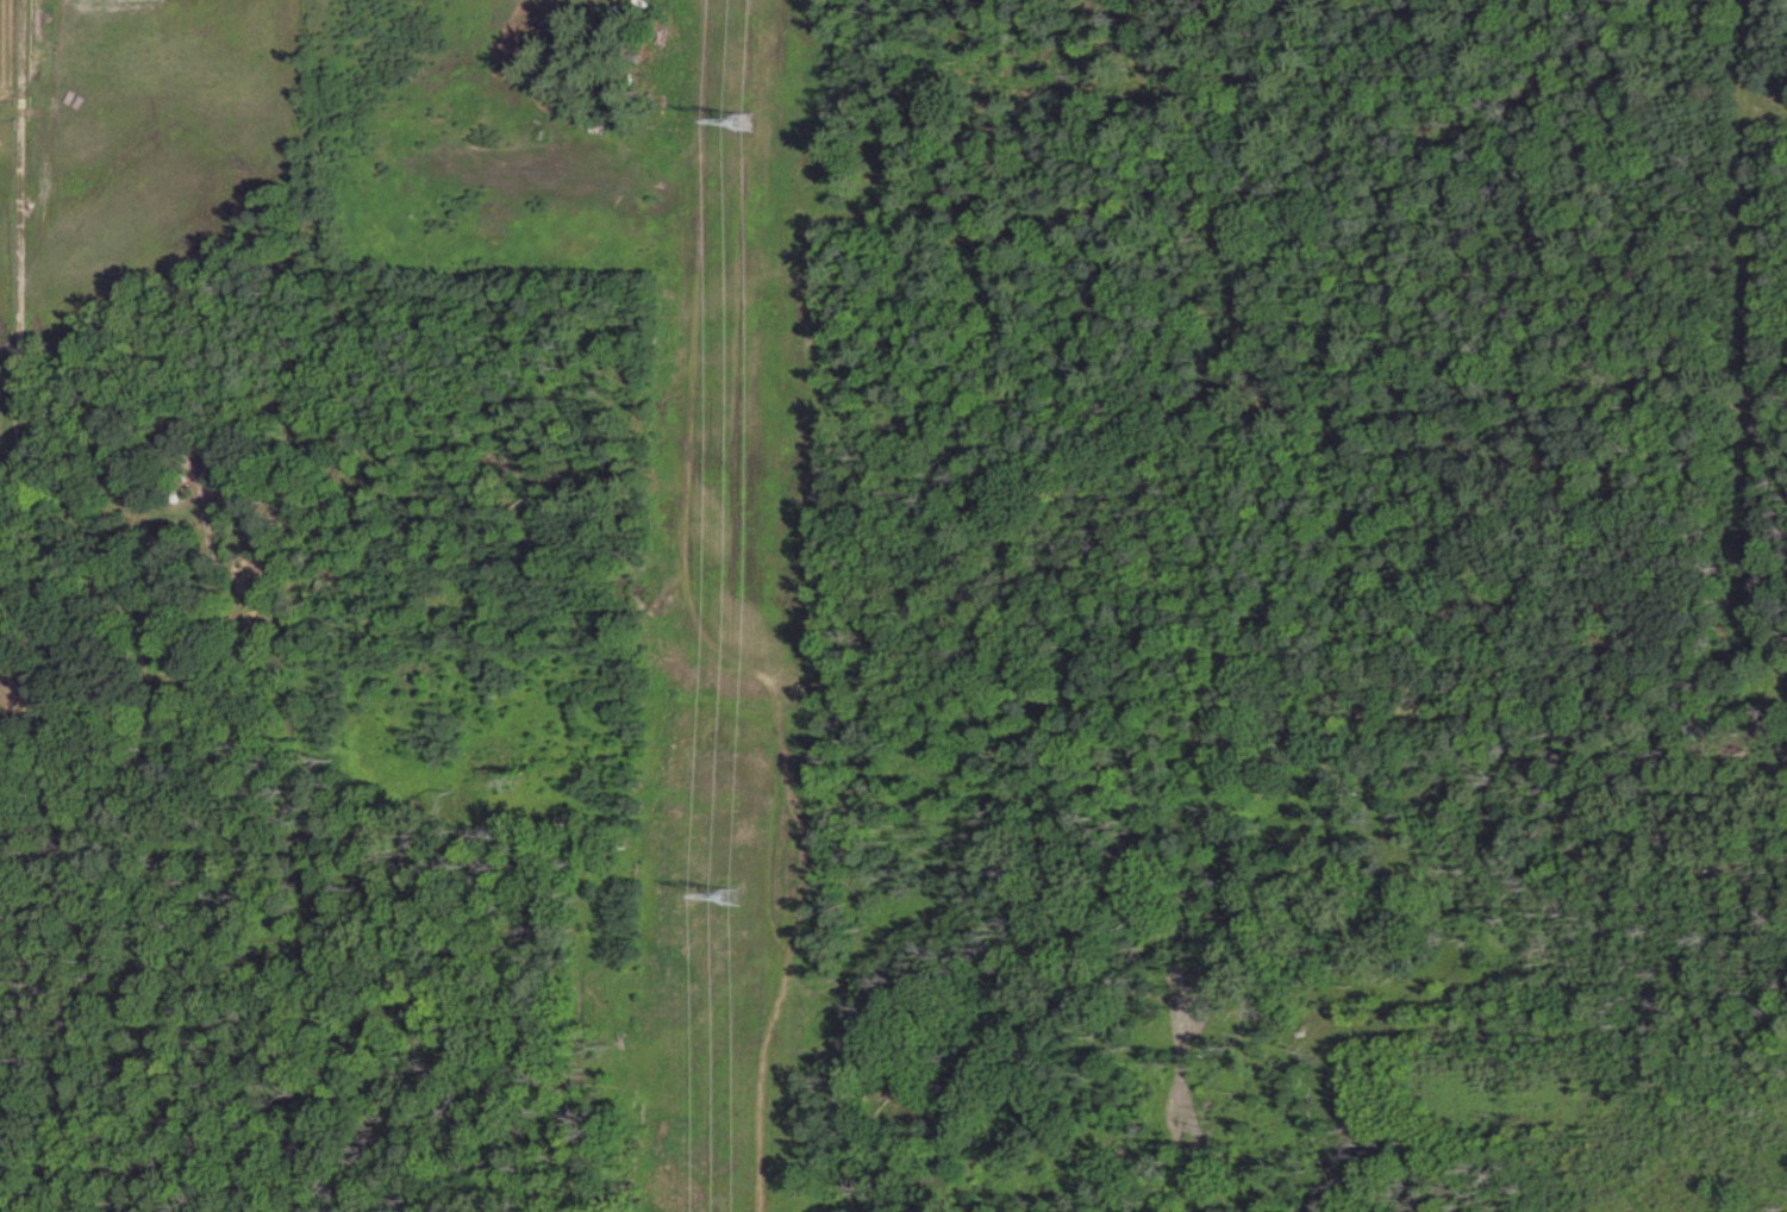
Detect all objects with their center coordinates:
power tower: (743, 120)
power tower: (732, 895)

